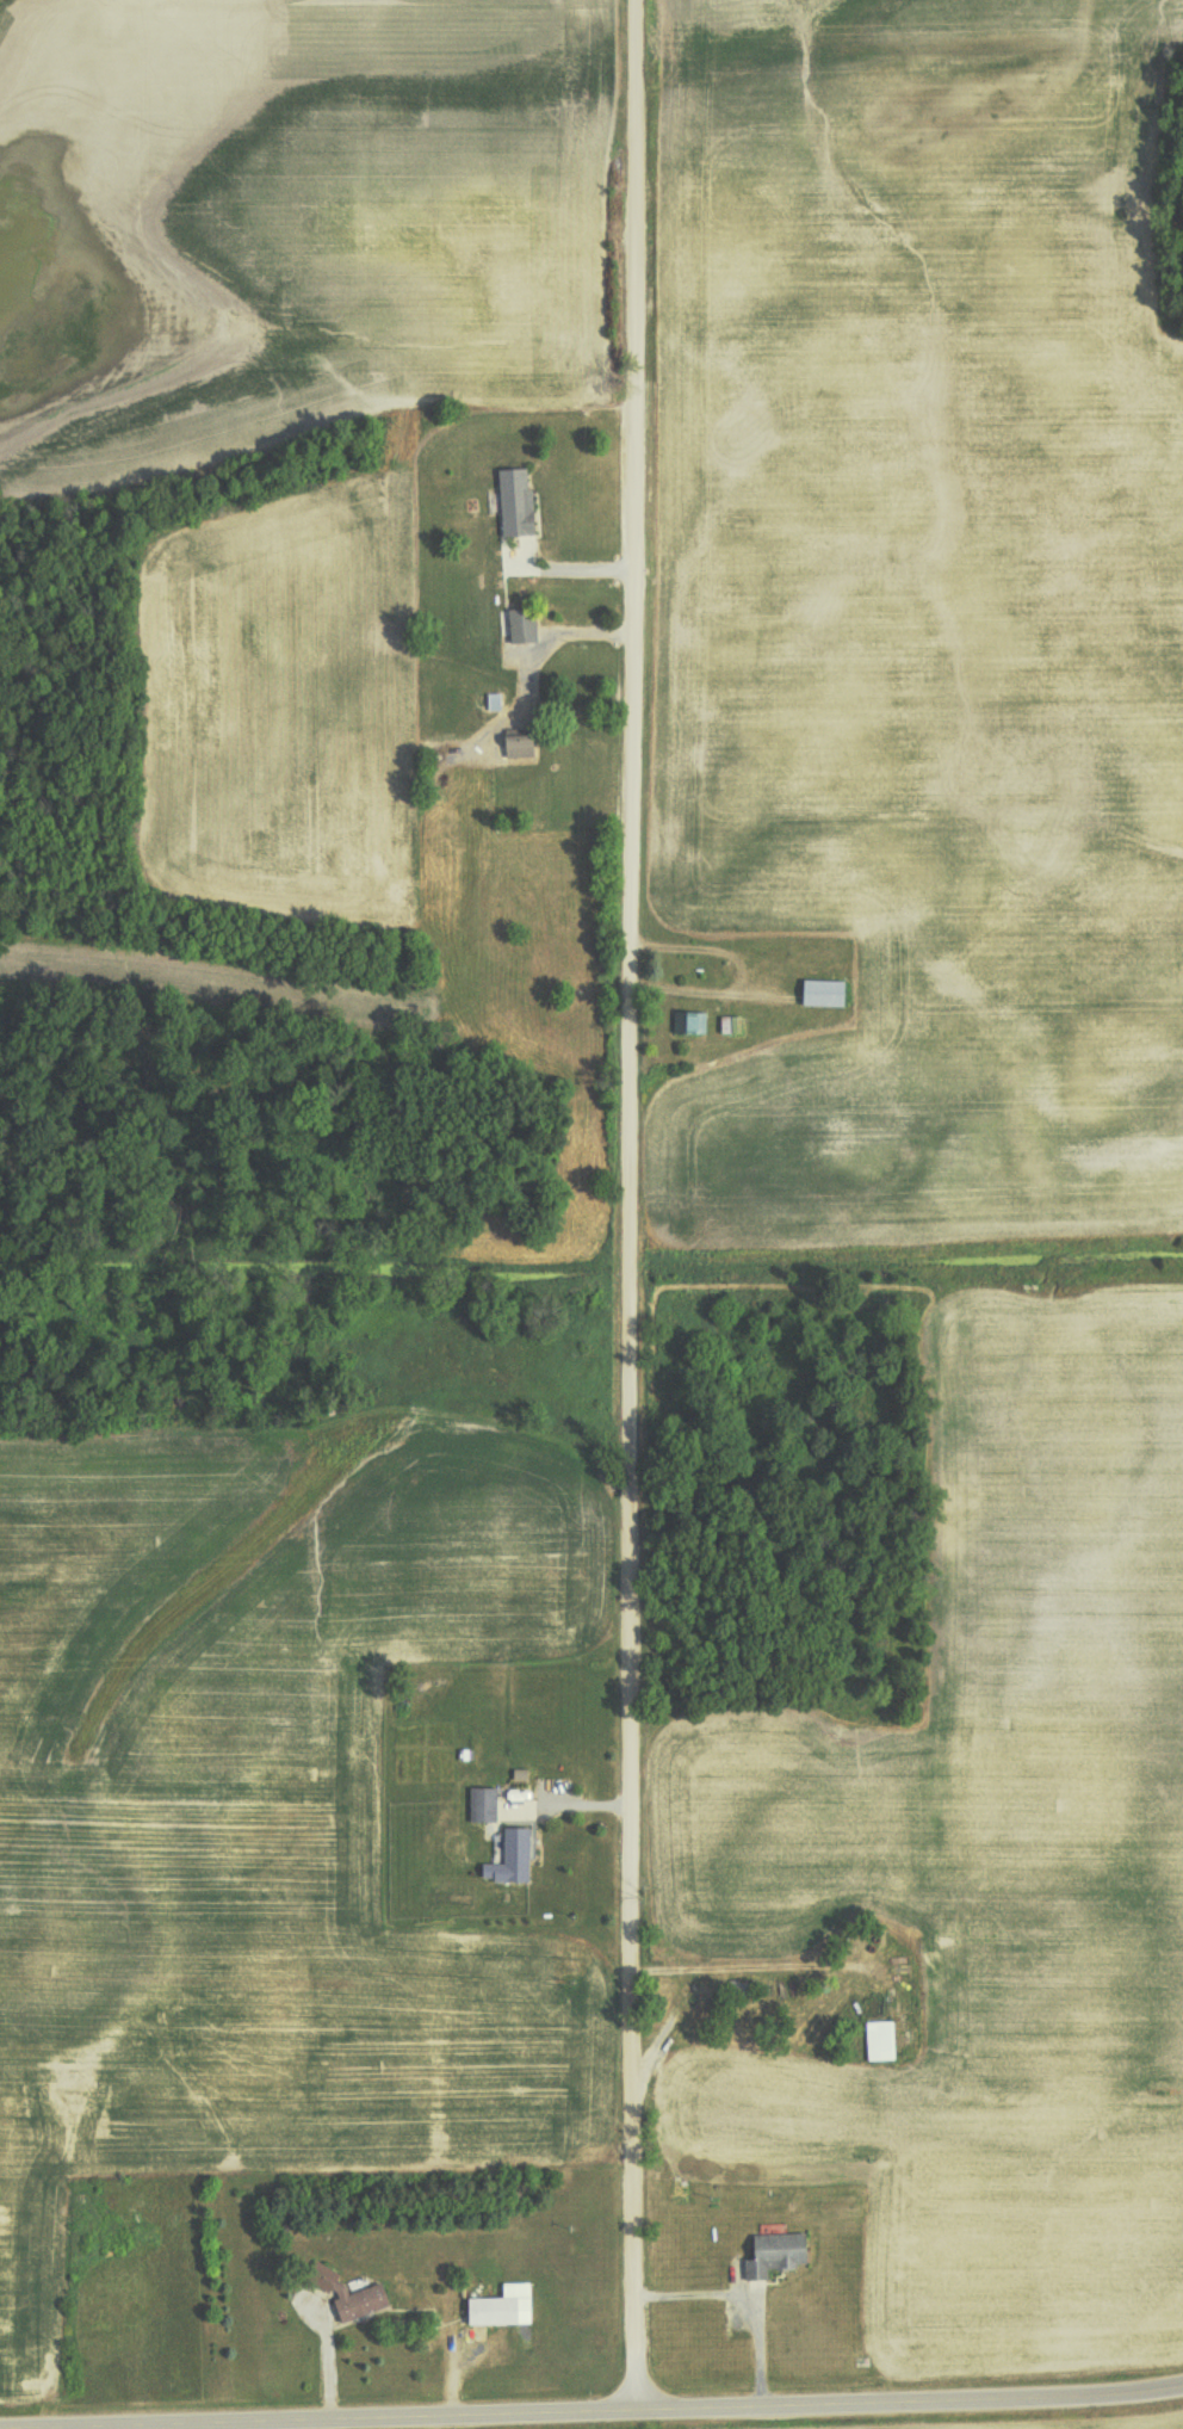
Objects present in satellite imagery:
building: (514, 501)
building: (521, 624)
building: (516, 744)
building: (820, 991)
building: (689, 1021)
road: (632, 1205)
building: (482, 1803)
building: (509, 1856)
building: (737, 1986)
building: (879, 2040)
building: (773, 2251)
building: (346, 2291)
road: (910, 2404)
road: (389, 2419)

